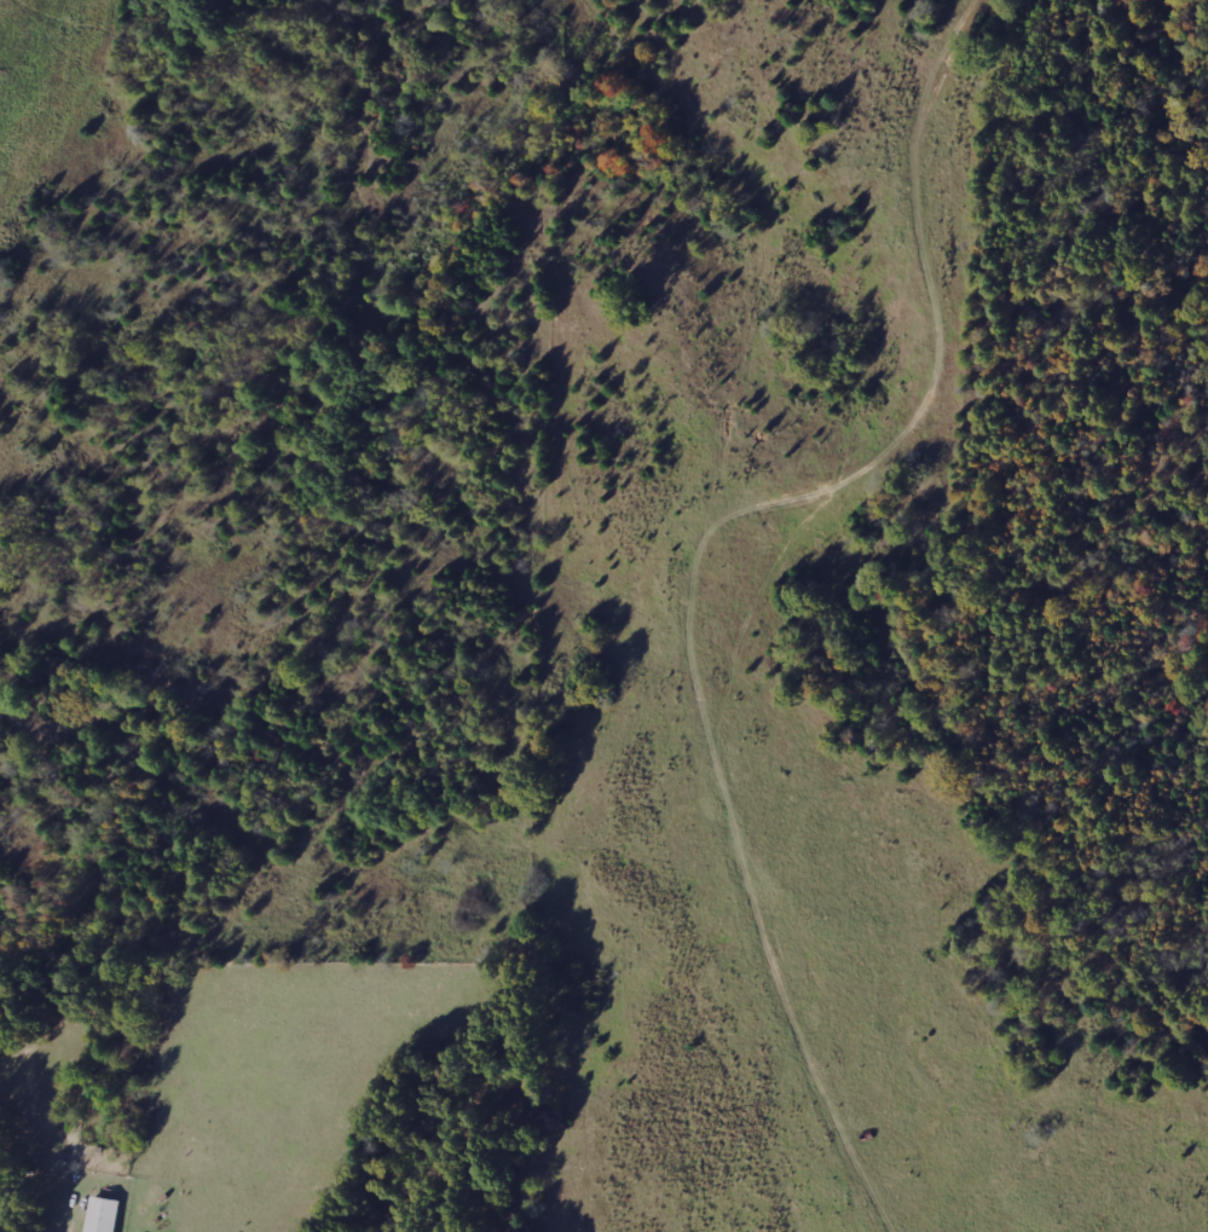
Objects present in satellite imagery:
building: (106, 1214)

